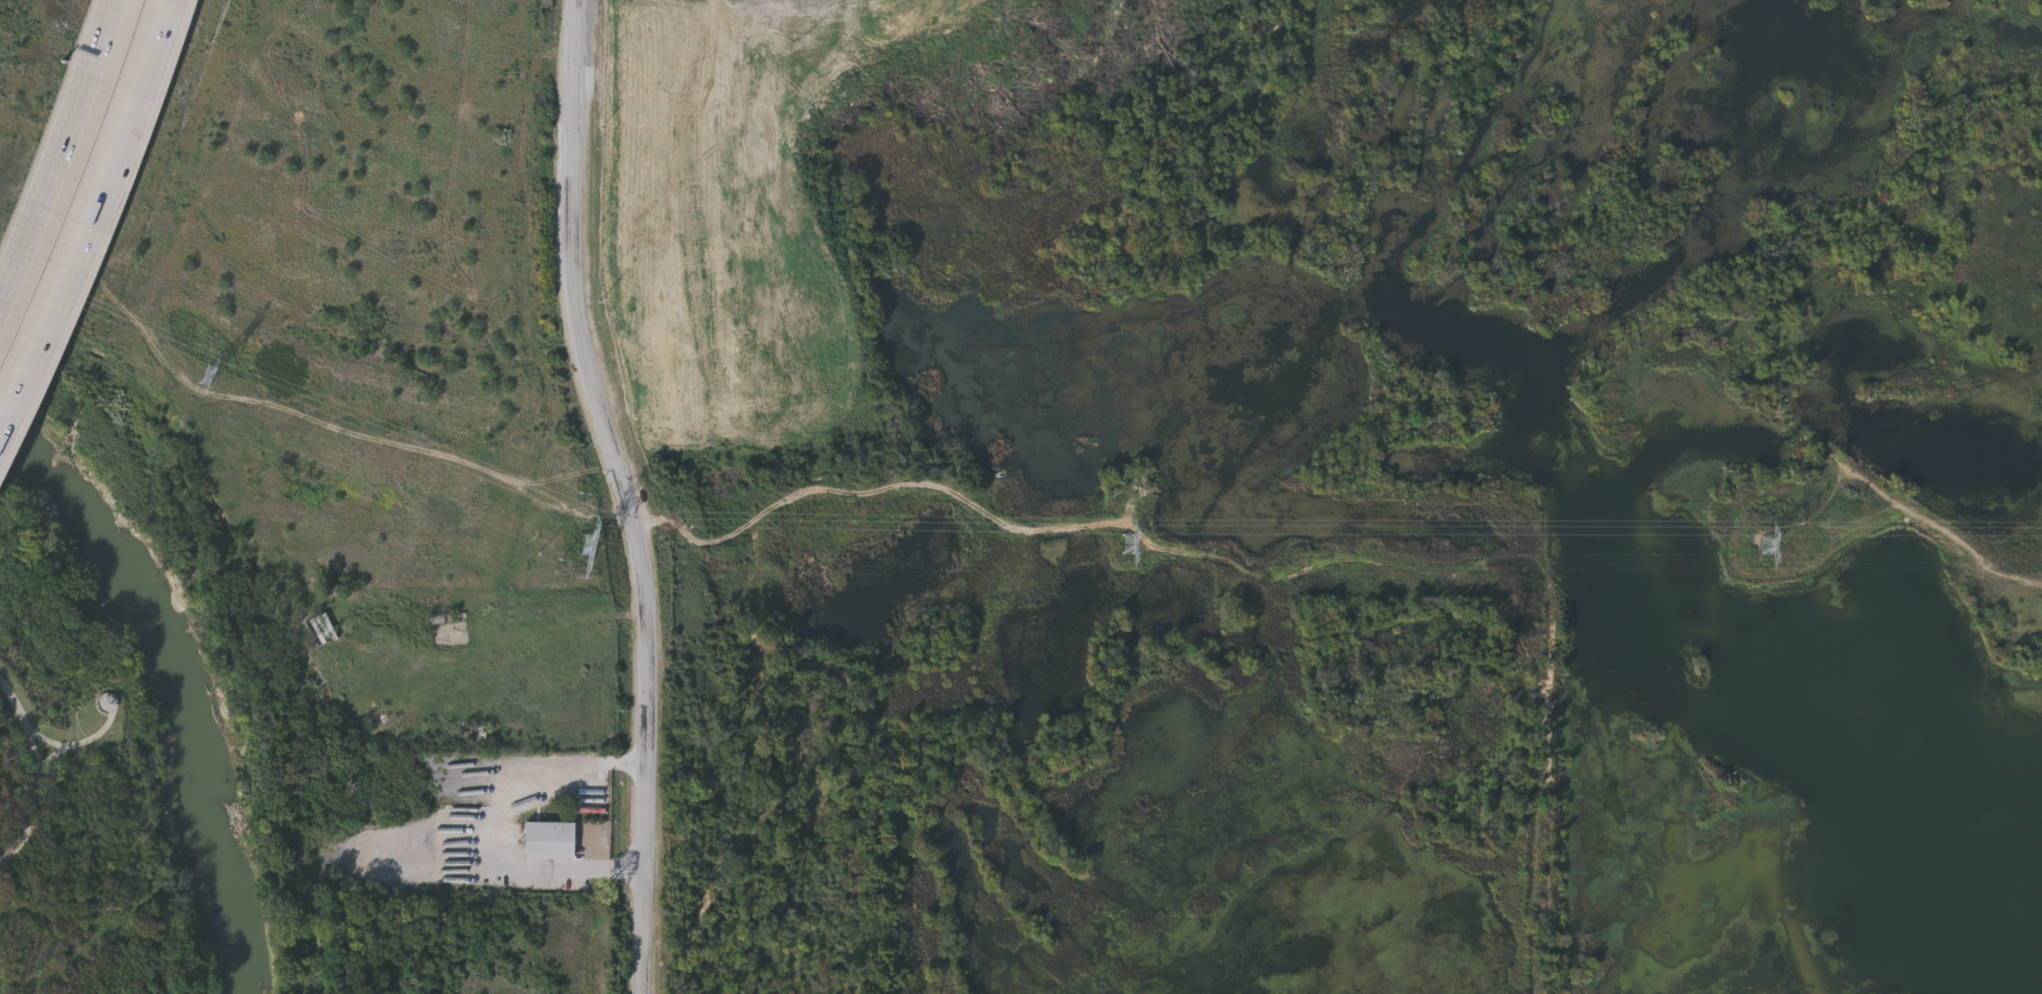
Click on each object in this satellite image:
road: (65, 168)
road: (94, 227)
power tower: (213, 377)
road: (626, 494)
power tower: (1764, 546)
power tower: (589, 547)
power tower: (1128, 548)
building: (448, 622)
river: (180, 683)
road: (17, 708)
building: (361, 727)
building: (474, 734)
road: (78, 745)
road: (46, 765)
road: (530, 770)
road: (33, 805)
building: (548, 842)
road: (570, 871)

